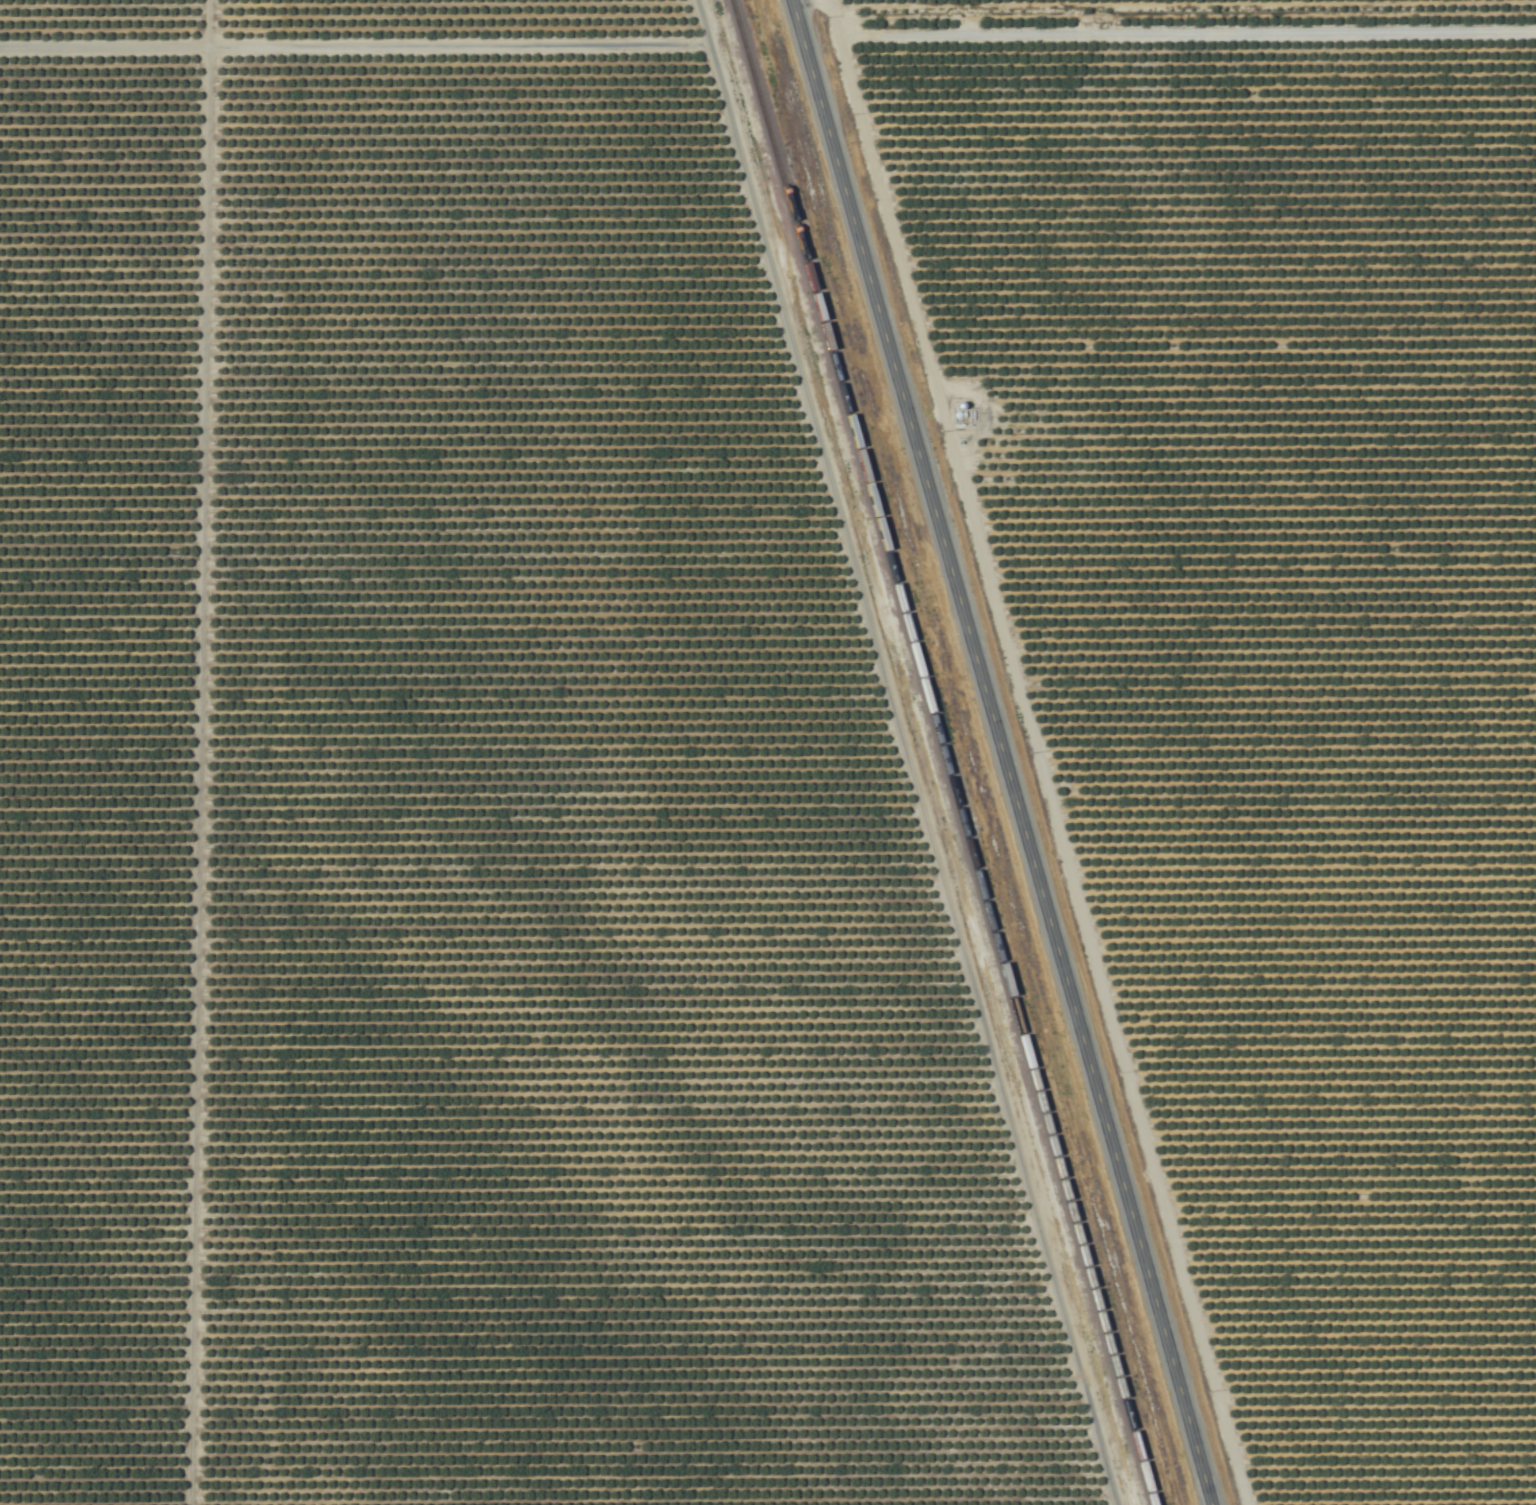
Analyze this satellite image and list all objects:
road: (353, 53)
road: (192, 752)
crop: (768, 752)
railway: (937, 752)
road: (995, 752)

